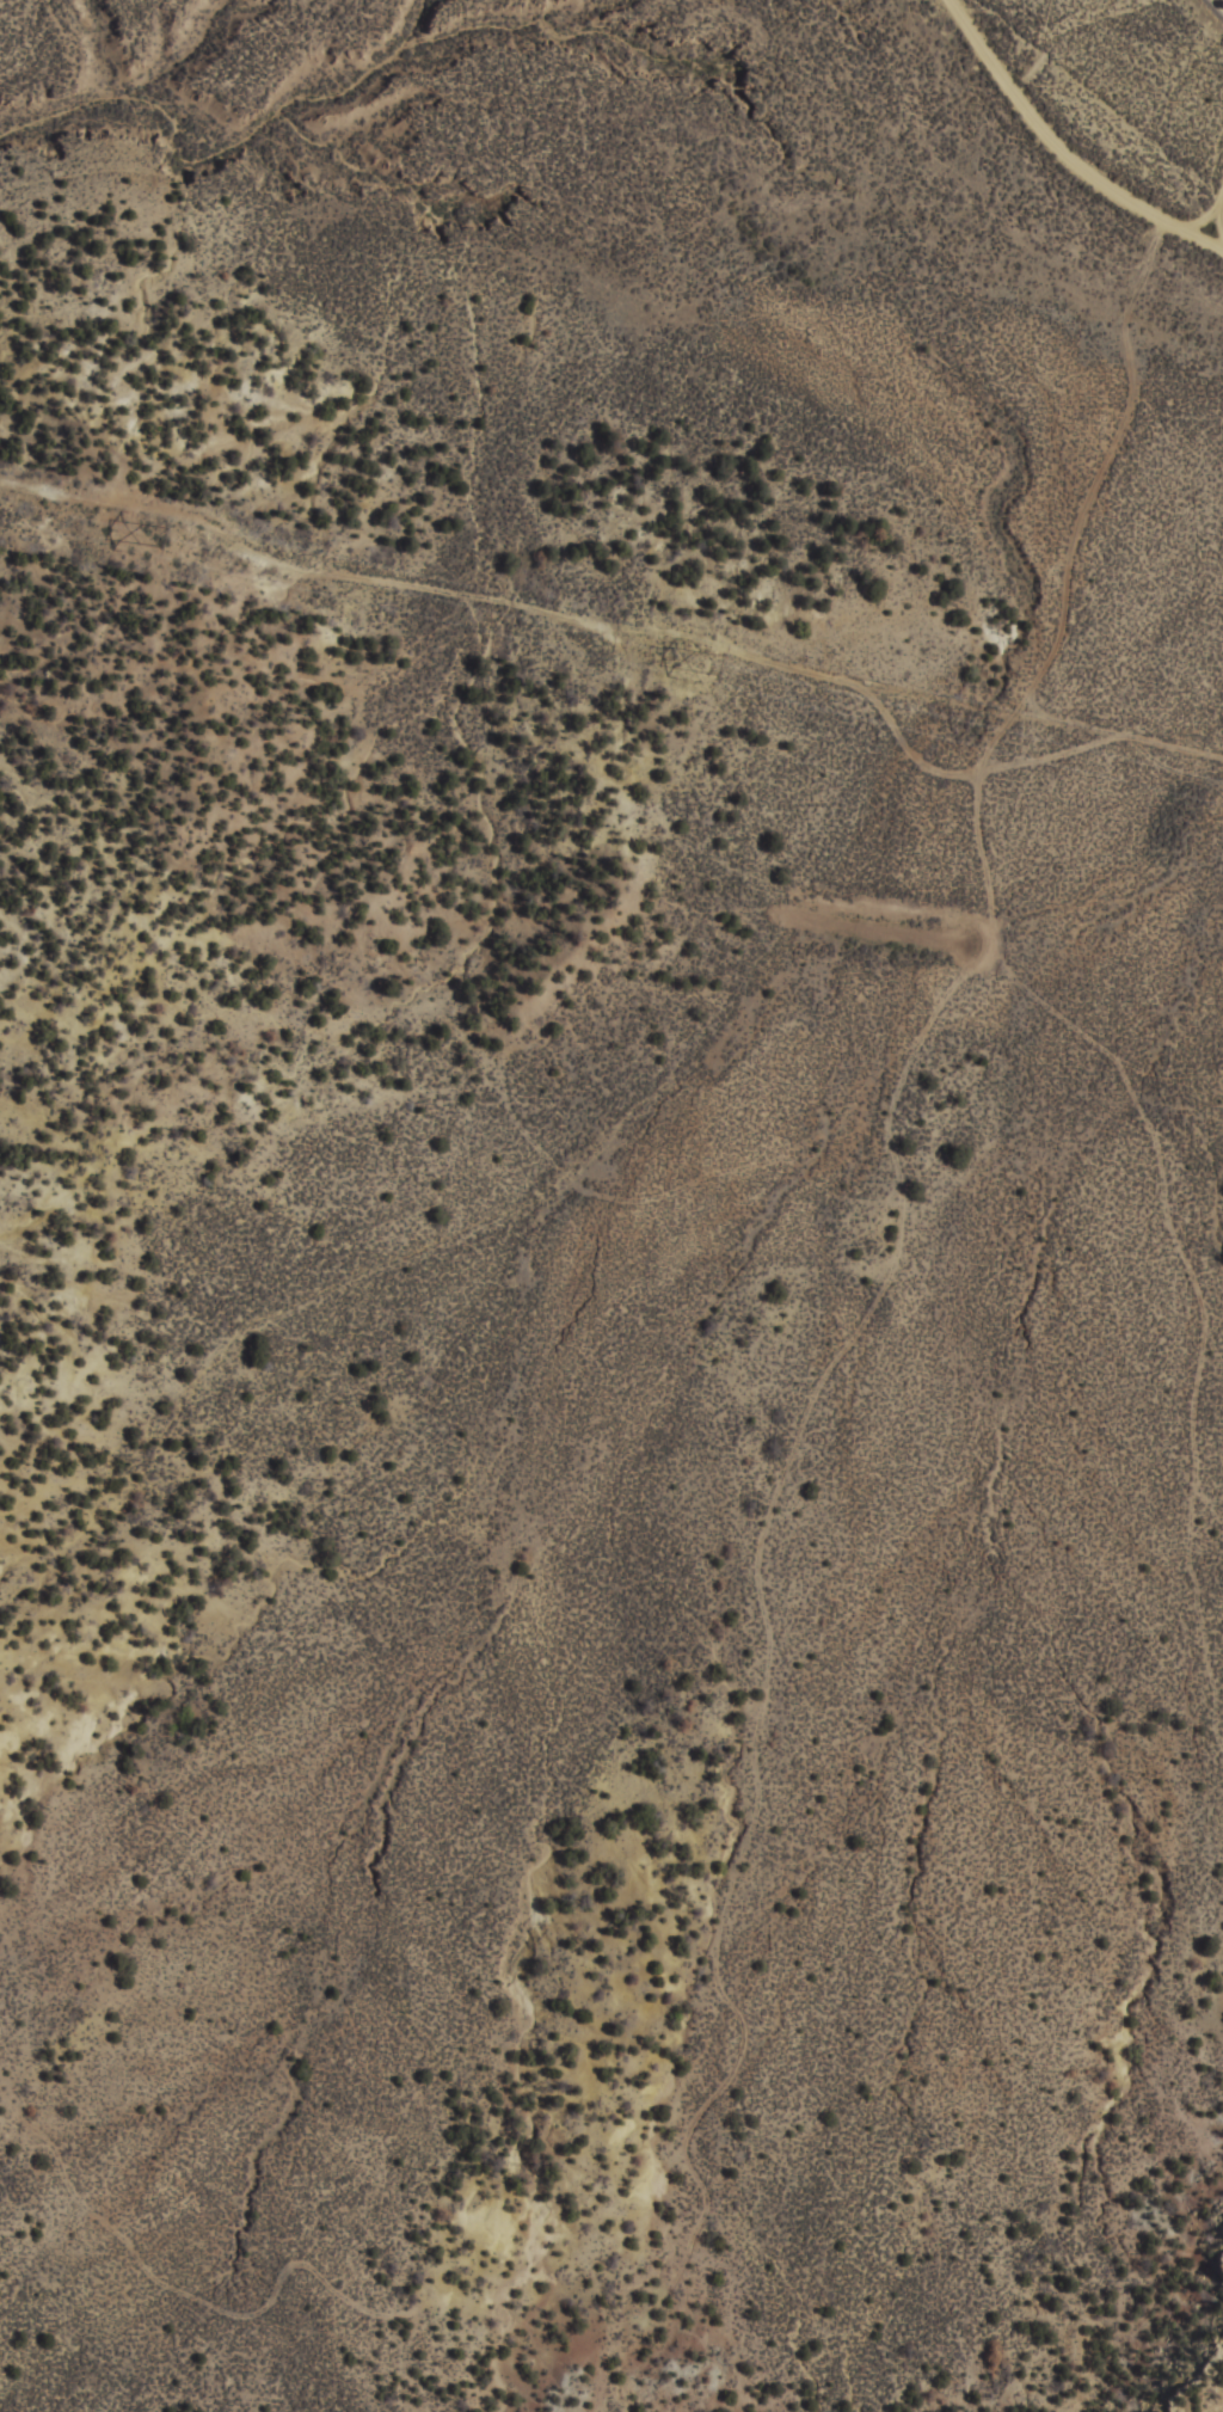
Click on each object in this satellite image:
road: (1067, 130)
river: (262, 154)
river: (1040, 180)
power tower: (159, 536)
power tower: (724, 665)

